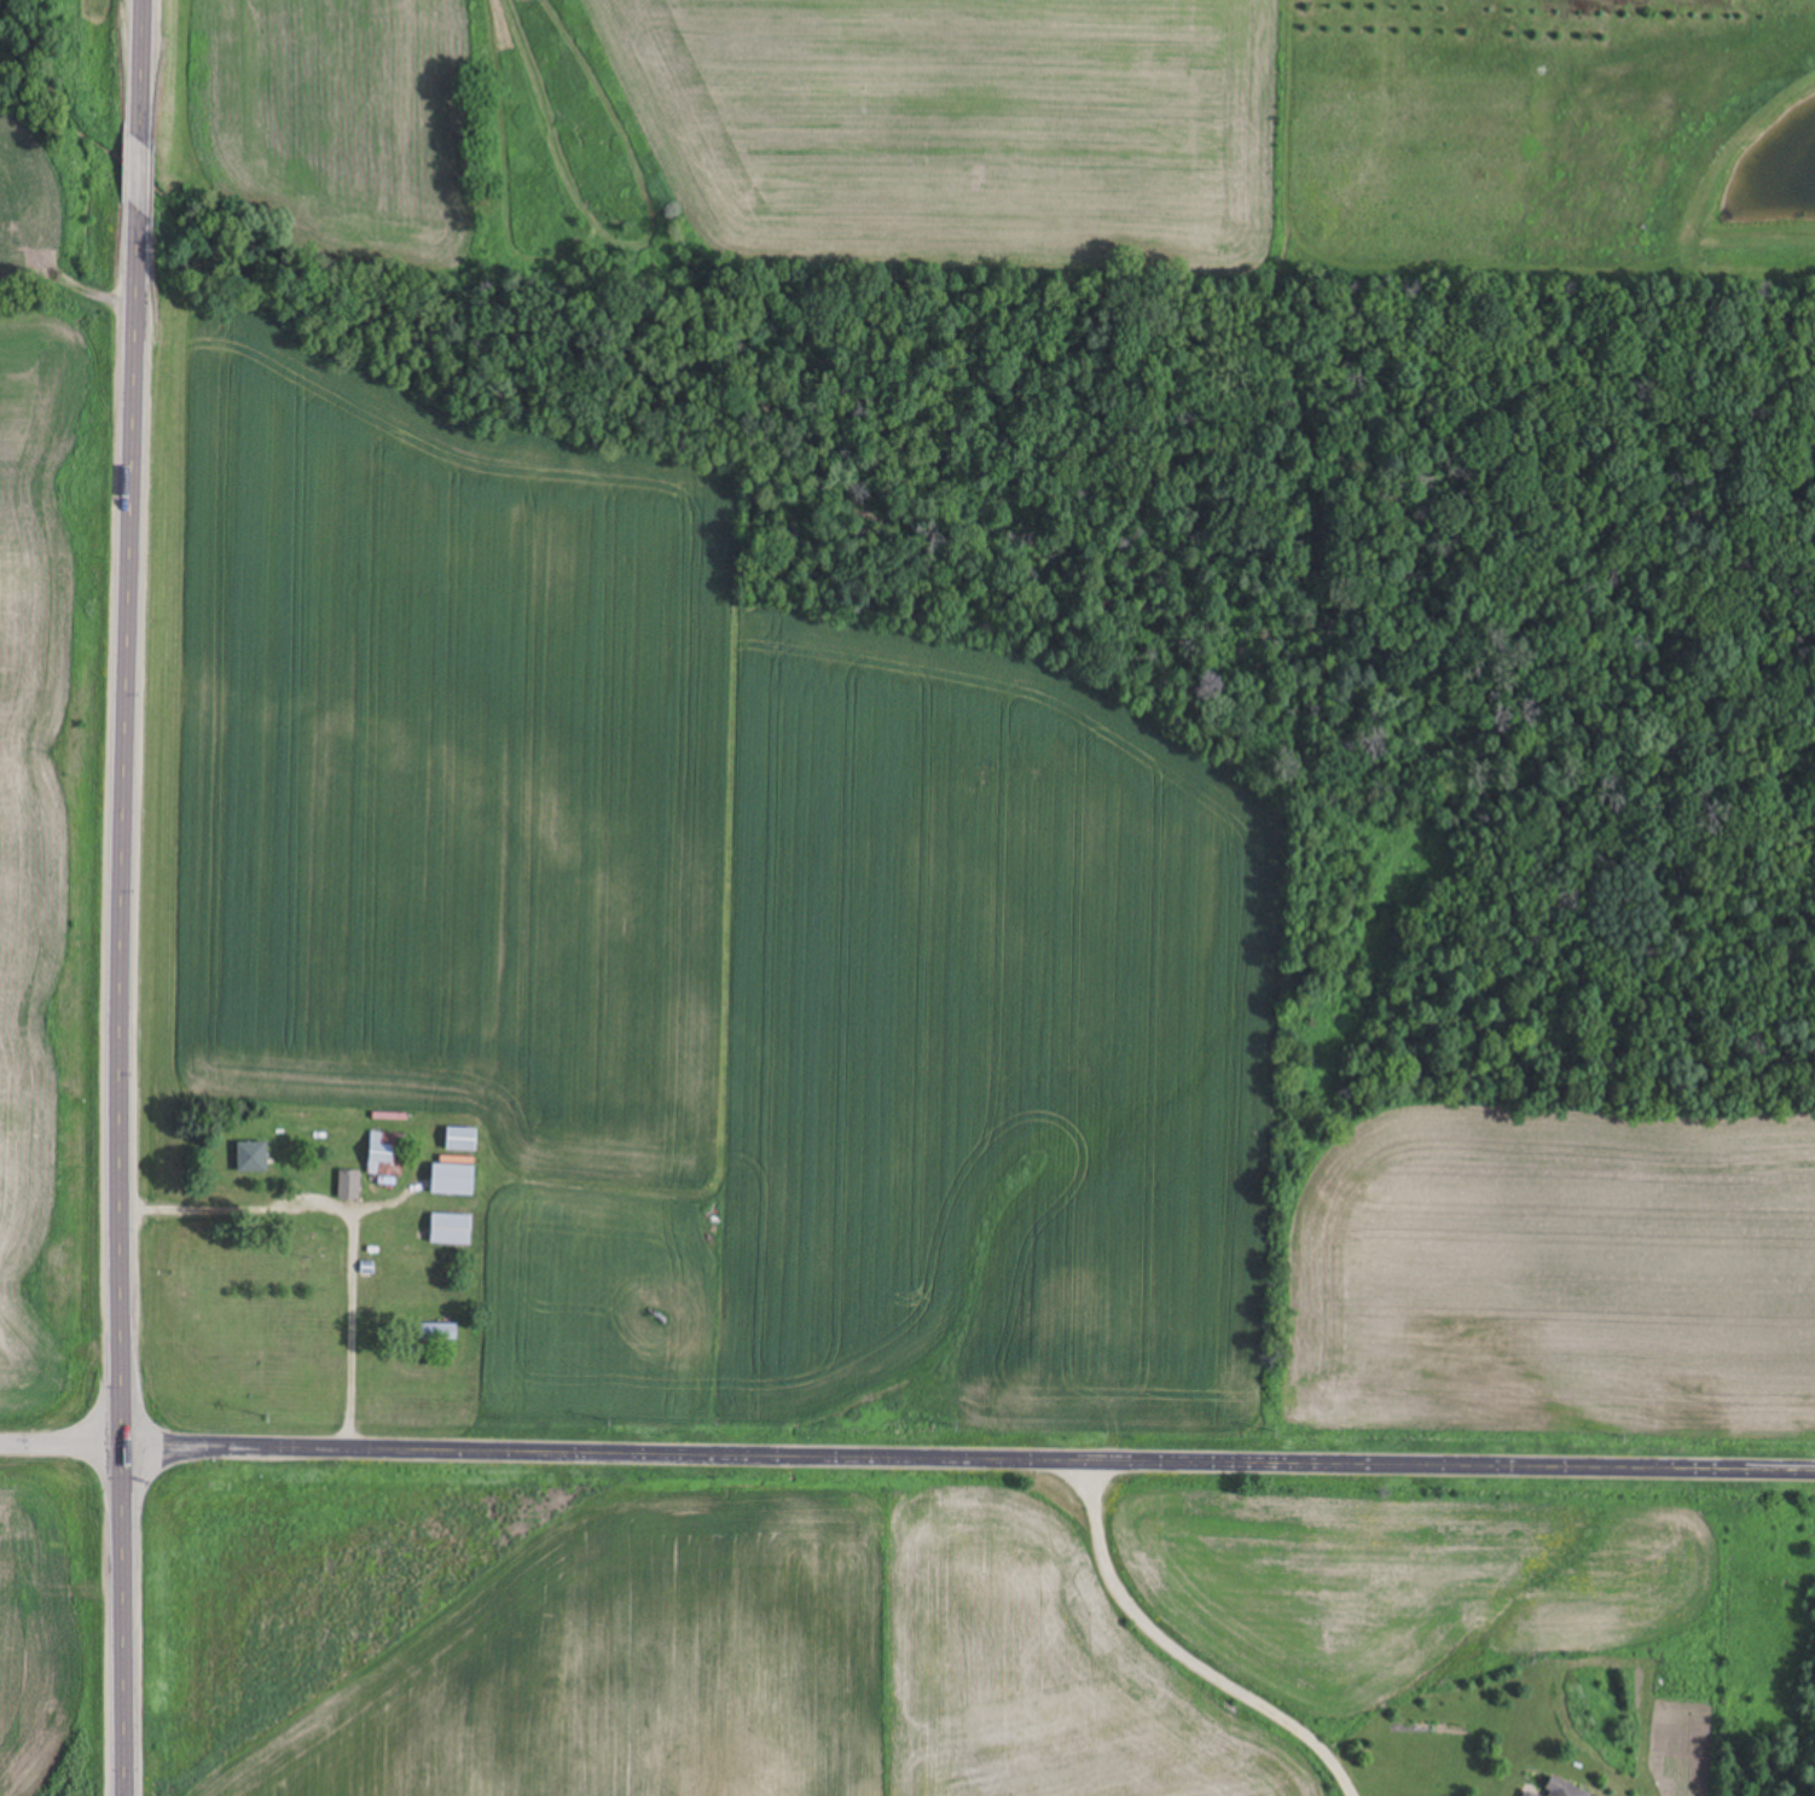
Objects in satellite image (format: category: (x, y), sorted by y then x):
road: (122, 897)
building: (462, 1141)
building: (387, 1156)
building: (251, 1158)
building: (452, 1180)
building: (349, 1187)
building: (451, 1231)
building: (437, 1333)
road: (62, 1451)
road: (968, 1466)
road: (1185, 1657)
building: (1564, 1790)
building: (1527, 1795)

